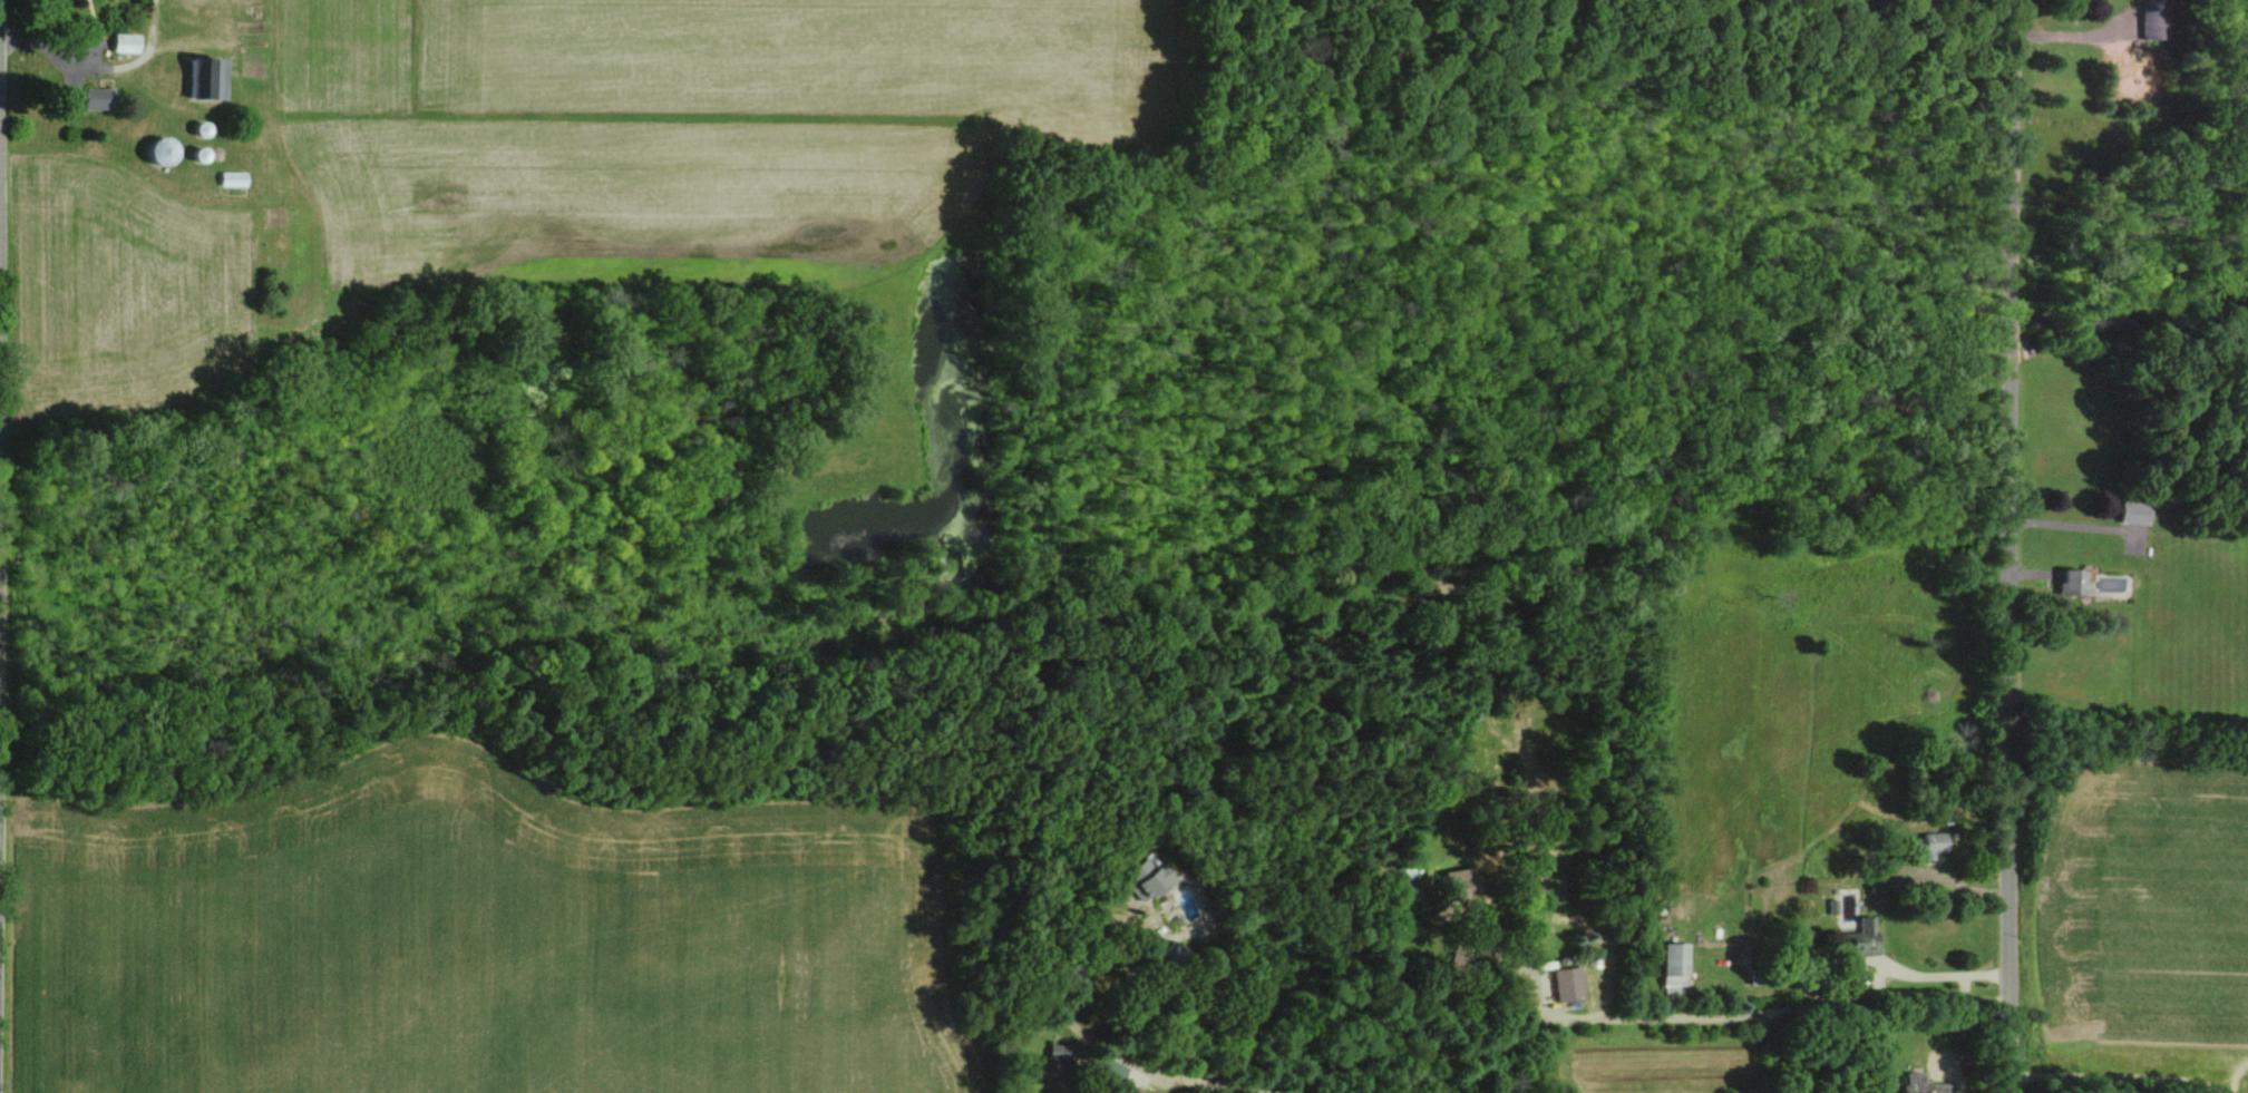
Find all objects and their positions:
building: (128, 42)
building: (211, 77)
building: (100, 98)
building: (234, 178)
building: (2131, 513)
road: (2071, 525)
road: (2008, 546)
building: (2064, 583)
building: (1925, 845)
building: (1147, 878)
building: (1852, 946)
road: (1062, 963)
building: (1674, 967)
road: (1520, 973)
road: (1942, 976)
building: (1568, 984)
road: (1875, 1002)
road: (1139, 1011)
road: (1712, 1014)
building: (1059, 1052)
building: (1118, 1073)
road: (2135, 1074)
road: (1172, 1075)
road: (1954, 1081)
building: (1917, 1084)
road: (2226, 1091)

